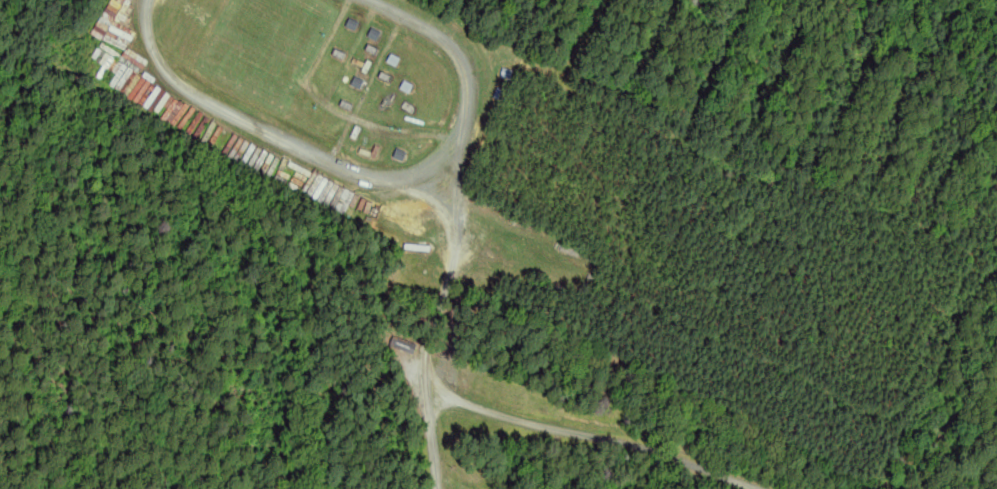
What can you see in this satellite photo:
road: (369, 184)
road: (432, 324)
road: (594, 438)

